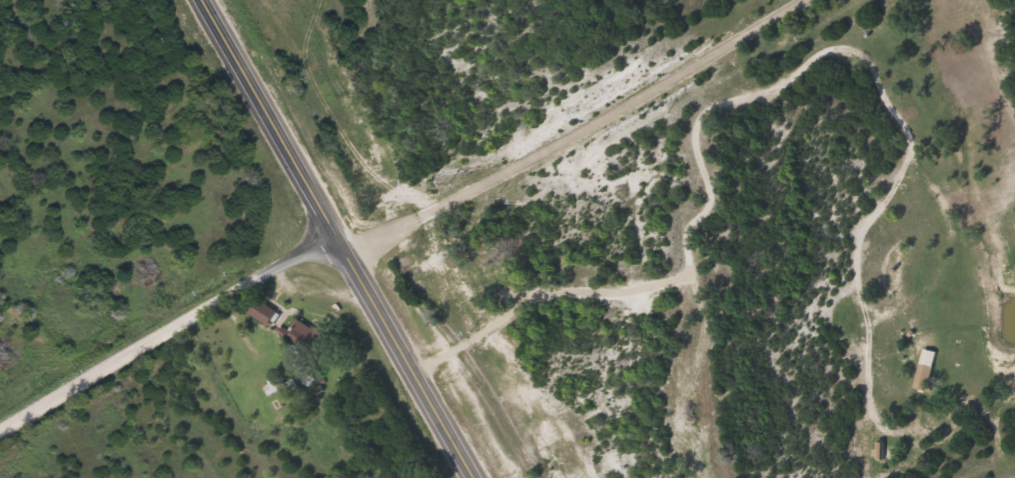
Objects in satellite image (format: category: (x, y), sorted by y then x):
road: (573, 128)
road: (343, 239)
building: (264, 310)
building: (297, 330)
road: (170, 335)
building: (923, 375)

